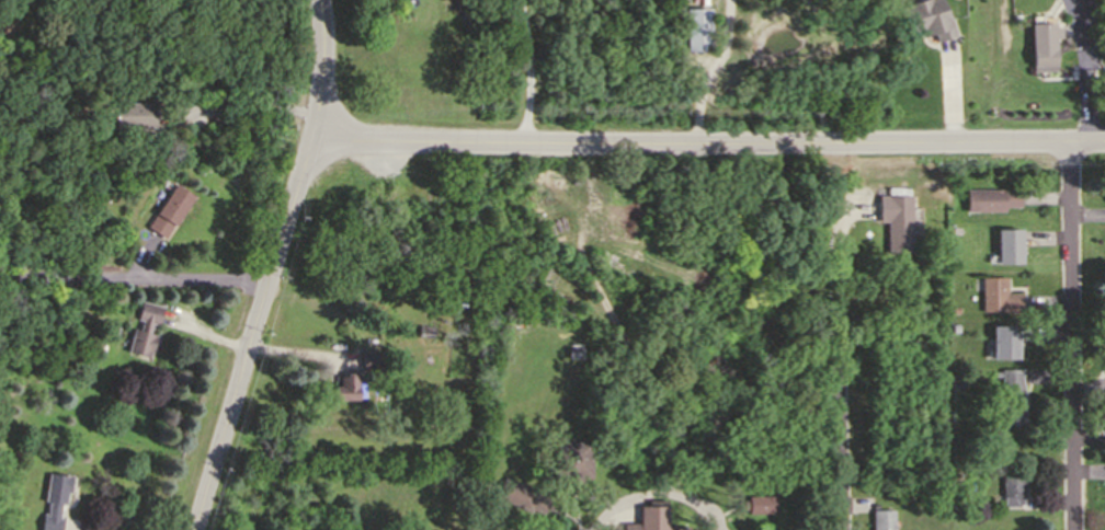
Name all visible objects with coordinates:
building: (1070, 0)
building: (926, 14)
building: (699, 31)
building: (1041, 59)
road: (314, 70)
road: (527, 70)
road: (711, 70)
road: (1082, 87)
road: (242, 101)
building: (133, 114)
road: (709, 142)
building: (990, 198)
building: (169, 211)
building: (898, 220)
building: (1009, 244)
road: (135, 277)
building: (998, 296)
building: (80, 309)
building: (144, 327)
building: (955, 327)
building: (424, 330)
road: (252, 335)
road: (1070, 337)
building: (1003, 342)
building: (573, 352)
building: (369, 355)
road: (841, 372)
building: (348, 388)
building: (1011, 396)
building: (568, 461)
building: (1012, 487)
road: (654, 493)
building: (520, 495)
building: (53, 499)
building: (757, 504)
building: (650, 519)
building: (881, 519)

